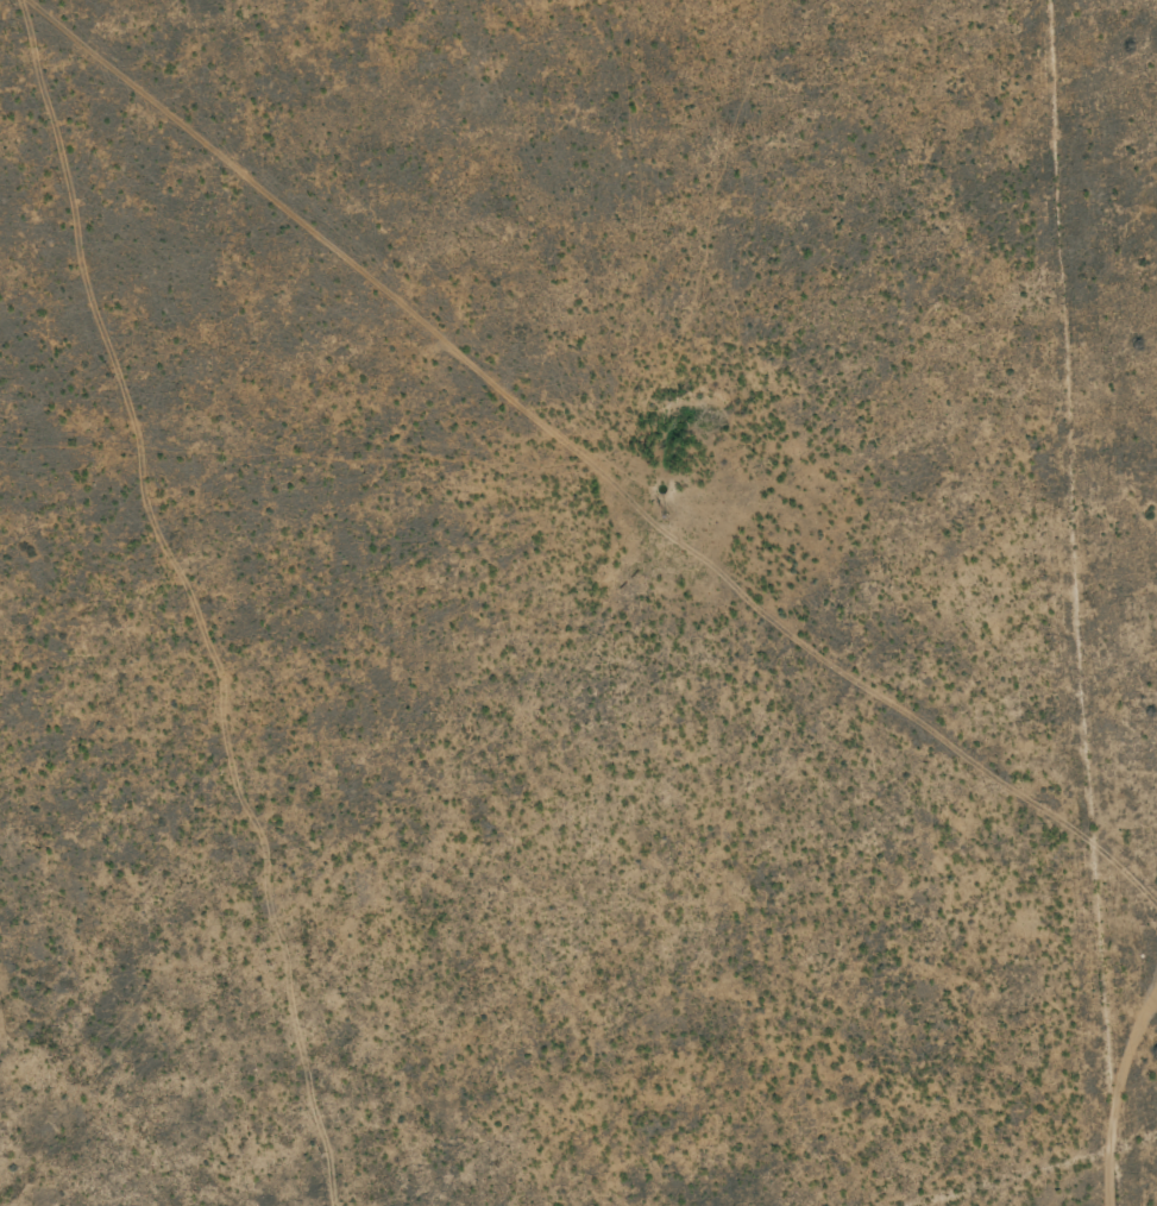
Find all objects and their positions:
road: (1111, 1193)

